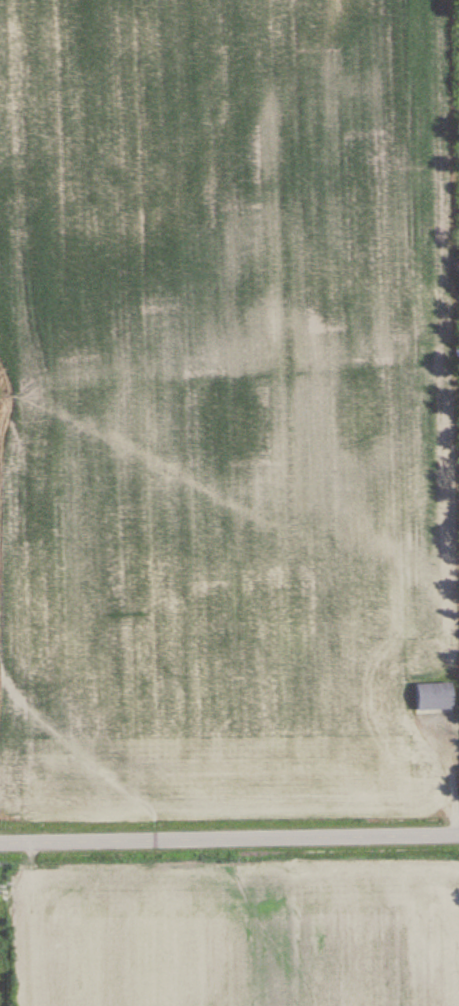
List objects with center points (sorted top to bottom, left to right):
building: (434, 696)
road: (433, 771)
road: (229, 836)

